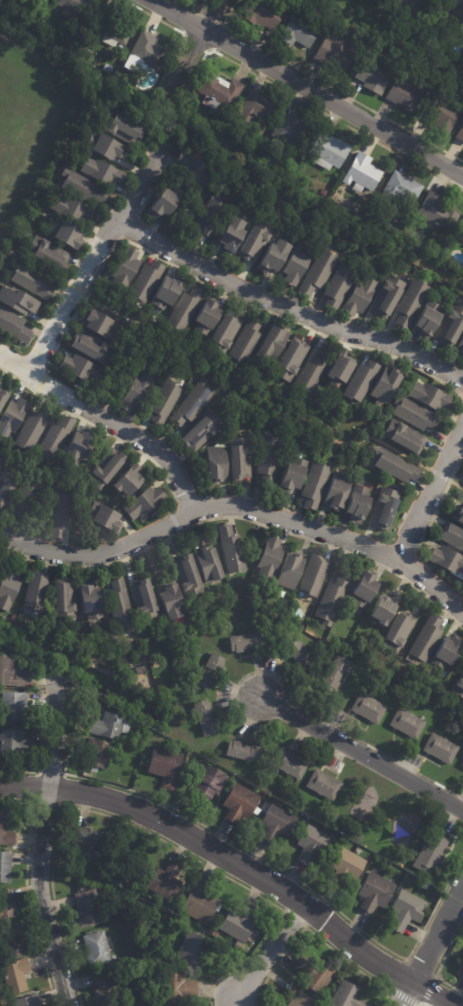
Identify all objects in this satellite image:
building: (41, 4)
building: (77, 7)
building: (407, 7)
road: (191, 8)
building: (265, 14)
building: (453, 18)
building: (114, 26)
building: (301, 33)
road: (181, 34)
road: (183, 36)
building: (142, 49)
road: (192, 50)
building: (336, 53)
building: (102, 67)
building: (374, 76)
road: (330, 87)
road: (305, 88)
building: (217, 90)
building: (406, 94)
road: (309, 104)
building: (252, 108)
building: (445, 116)
building: (124, 128)
road: (175, 129)
building: (215, 129)
building: (294, 132)
building: (460, 135)
building: (105, 145)
building: (331, 151)
building: (197, 169)
building: (104, 172)
building: (364, 173)
building: (83, 187)
building: (403, 191)
building: (325, 192)
road: (147, 195)
building: (166, 201)
building: (72, 209)
building: (439, 213)
building: (211, 217)
building: (394, 230)
building: (29, 233)
building: (67, 234)
building: (235, 234)
road: (141, 235)
building: (462, 236)
building: (257, 241)
road: (0, 250)
building: (48, 254)
building: (275, 254)
road: (91, 259)
road: (34, 264)
building: (297, 264)
building: (126, 269)
building: (319, 271)
building: (32, 281)
building: (147, 281)
building: (341, 284)
road: (76, 288)
building: (170, 292)
road: (221, 292)
building: (361, 295)
building: (389, 296)
building: (19, 301)
building: (412, 303)
road: (288, 305)
building: (187, 309)
building: (208, 316)
building: (429, 319)
building: (102, 325)
road: (143, 325)
building: (14, 326)
building: (452, 326)
building: (226, 333)
building: (247, 343)
building: (275, 343)
building: (461, 346)
building: (94, 348)
building: (462, 352)
building: (292, 359)
building: (81, 368)
building: (342, 368)
building: (314, 371)
building: (362, 381)
road: (41, 382)
building: (388, 385)
building: (138, 391)
park: (244, 391)
building: (430, 396)
building: (2, 397)
building: (165, 399)
building: (194, 403)
road: (461, 403)
building: (11, 415)
building: (416, 415)
road: (109, 421)
road: (306, 424)
building: (32, 431)
road: (102, 431)
building: (200, 431)
building: (405, 437)
building: (54, 441)
building: (78, 447)
building: (0, 456)
building: (240, 458)
building: (269, 459)
building: (217, 464)
building: (397, 466)
building: (108, 469)
building: (294, 474)
road: (438, 474)
building: (127, 480)
building: (316, 484)
road: (456, 484)
building: (8, 489)
building: (339, 491)
road: (430, 493)
building: (27, 495)
building: (145, 503)
building: (359, 503)
road: (238, 505)
building: (385, 508)
road: (433, 511)
building: (62, 512)
building: (457, 513)
building: (108, 516)
road: (238, 517)
road: (174, 521)
building: (451, 535)
building: (232, 550)
building: (271, 558)
building: (444, 558)
building: (210, 565)
building: (291, 572)
building: (191, 575)
building: (315, 575)
road: (420, 576)
building: (9, 589)
building: (365, 589)
building: (37, 590)
building: (283, 593)
building: (397, 594)
building: (333, 598)
building: (64, 601)
building: (146, 601)
building: (91, 602)
building: (173, 602)
building: (121, 607)
building: (382, 609)
building: (398, 632)
building: (428, 638)
building: (248, 642)
building: (447, 653)
building: (299, 654)
building: (142, 670)
building: (11, 672)
building: (211, 672)
building: (337, 672)
building: (459, 687)
building: (15, 706)
building: (369, 708)
building: (207, 718)
building: (408, 723)
building: (112, 726)
road: (333, 726)
road: (43, 743)
building: (13, 744)
building: (441, 748)
building: (245, 752)
road: (362, 754)
building: (98, 755)
building: (293, 764)
building: (462, 765)
building: (166, 766)
building: (208, 785)
building: (324, 785)
building: (243, 802)
road: (57, 806)
building: (277, 824)
building: (6, 830)
road: (142, 830)
building: (89, 840)
building: (313, 846)
road: (41, 849)
building: (360, 850)
building: (431, 853)
road: (258, 857)
road: (239, 865)
building: (6, 868)
building: (347, 869)
building: (167, 883)
road: (26, 890)
building: (376, 893)
building: (200, 903)
building: (160, 904)
building: (7, 906)
building: (411, 907)
building: (89, 909)
building: (240, 923)
road: (307, 926)
road: (317, 936)
building: (13, 942)
building: (241, 946)
road: (431, 947)
building: (1, 949)
building: (98, 950)
building: (199, 951)
road: (270, 951)
road: (405, 957)
road: (441, 962)
building: (461, 964)
building: (137, 967)
building: (317, 975)
building: (17, 977)
building: (107, 987)
building: (179, 990)
road: (428, 990)
building: (348, 996)
road: (402, 997)
building: (28, 1001)
building: (303, 1001)
building: (1, 1003)
building: (129, 1005)
road: (423, 1005)

